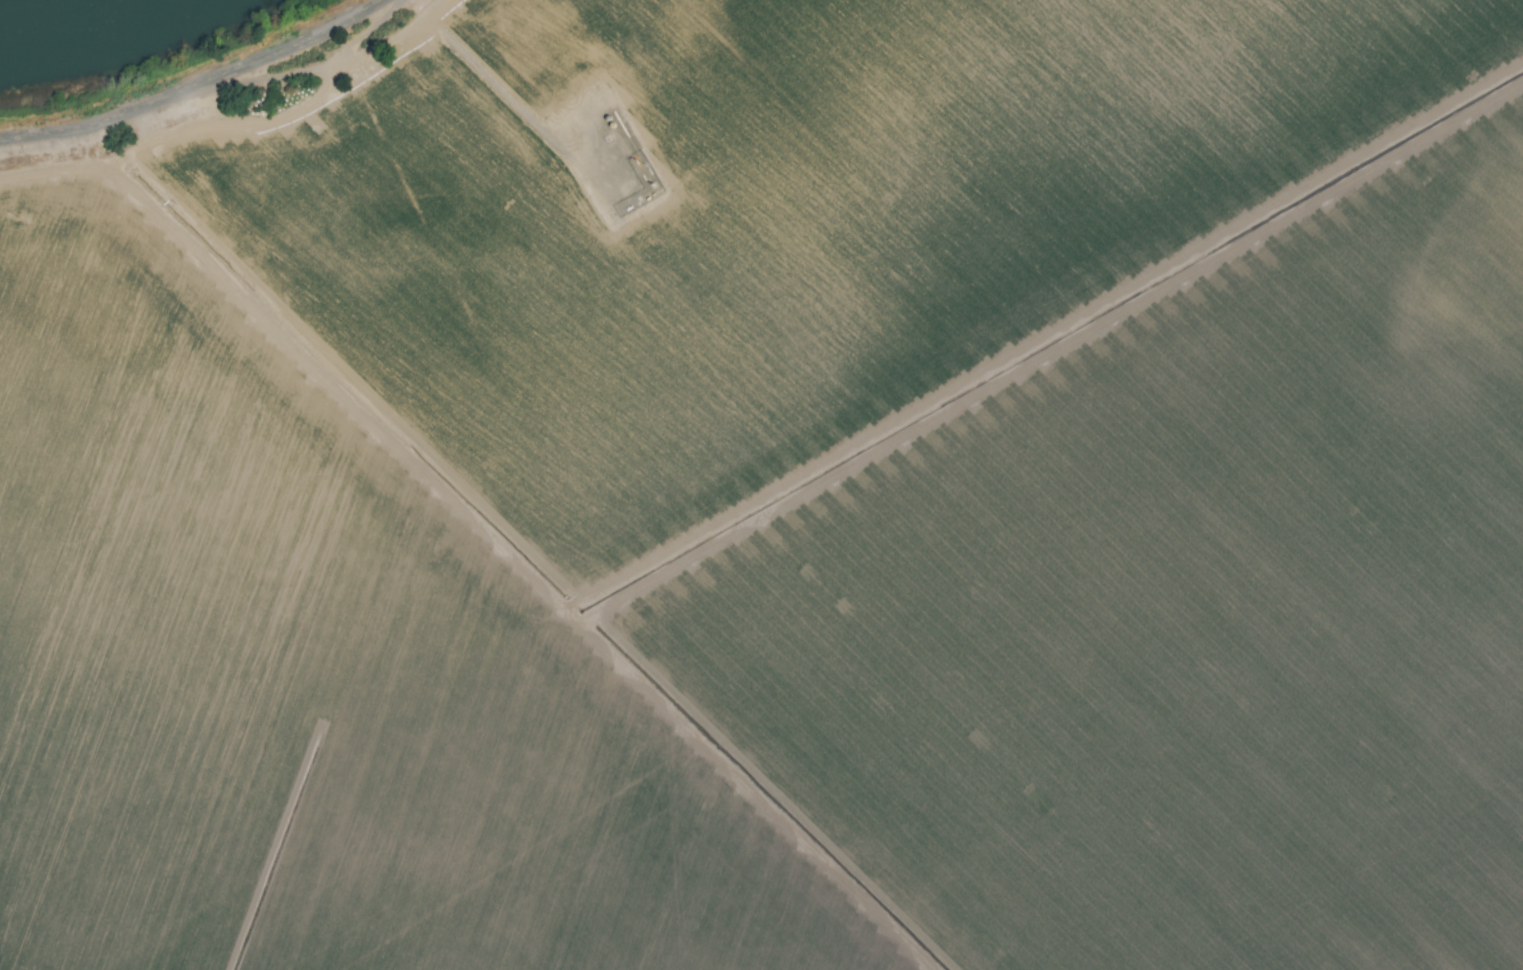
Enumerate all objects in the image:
road: (195, 85)
crop: (774, 493)

